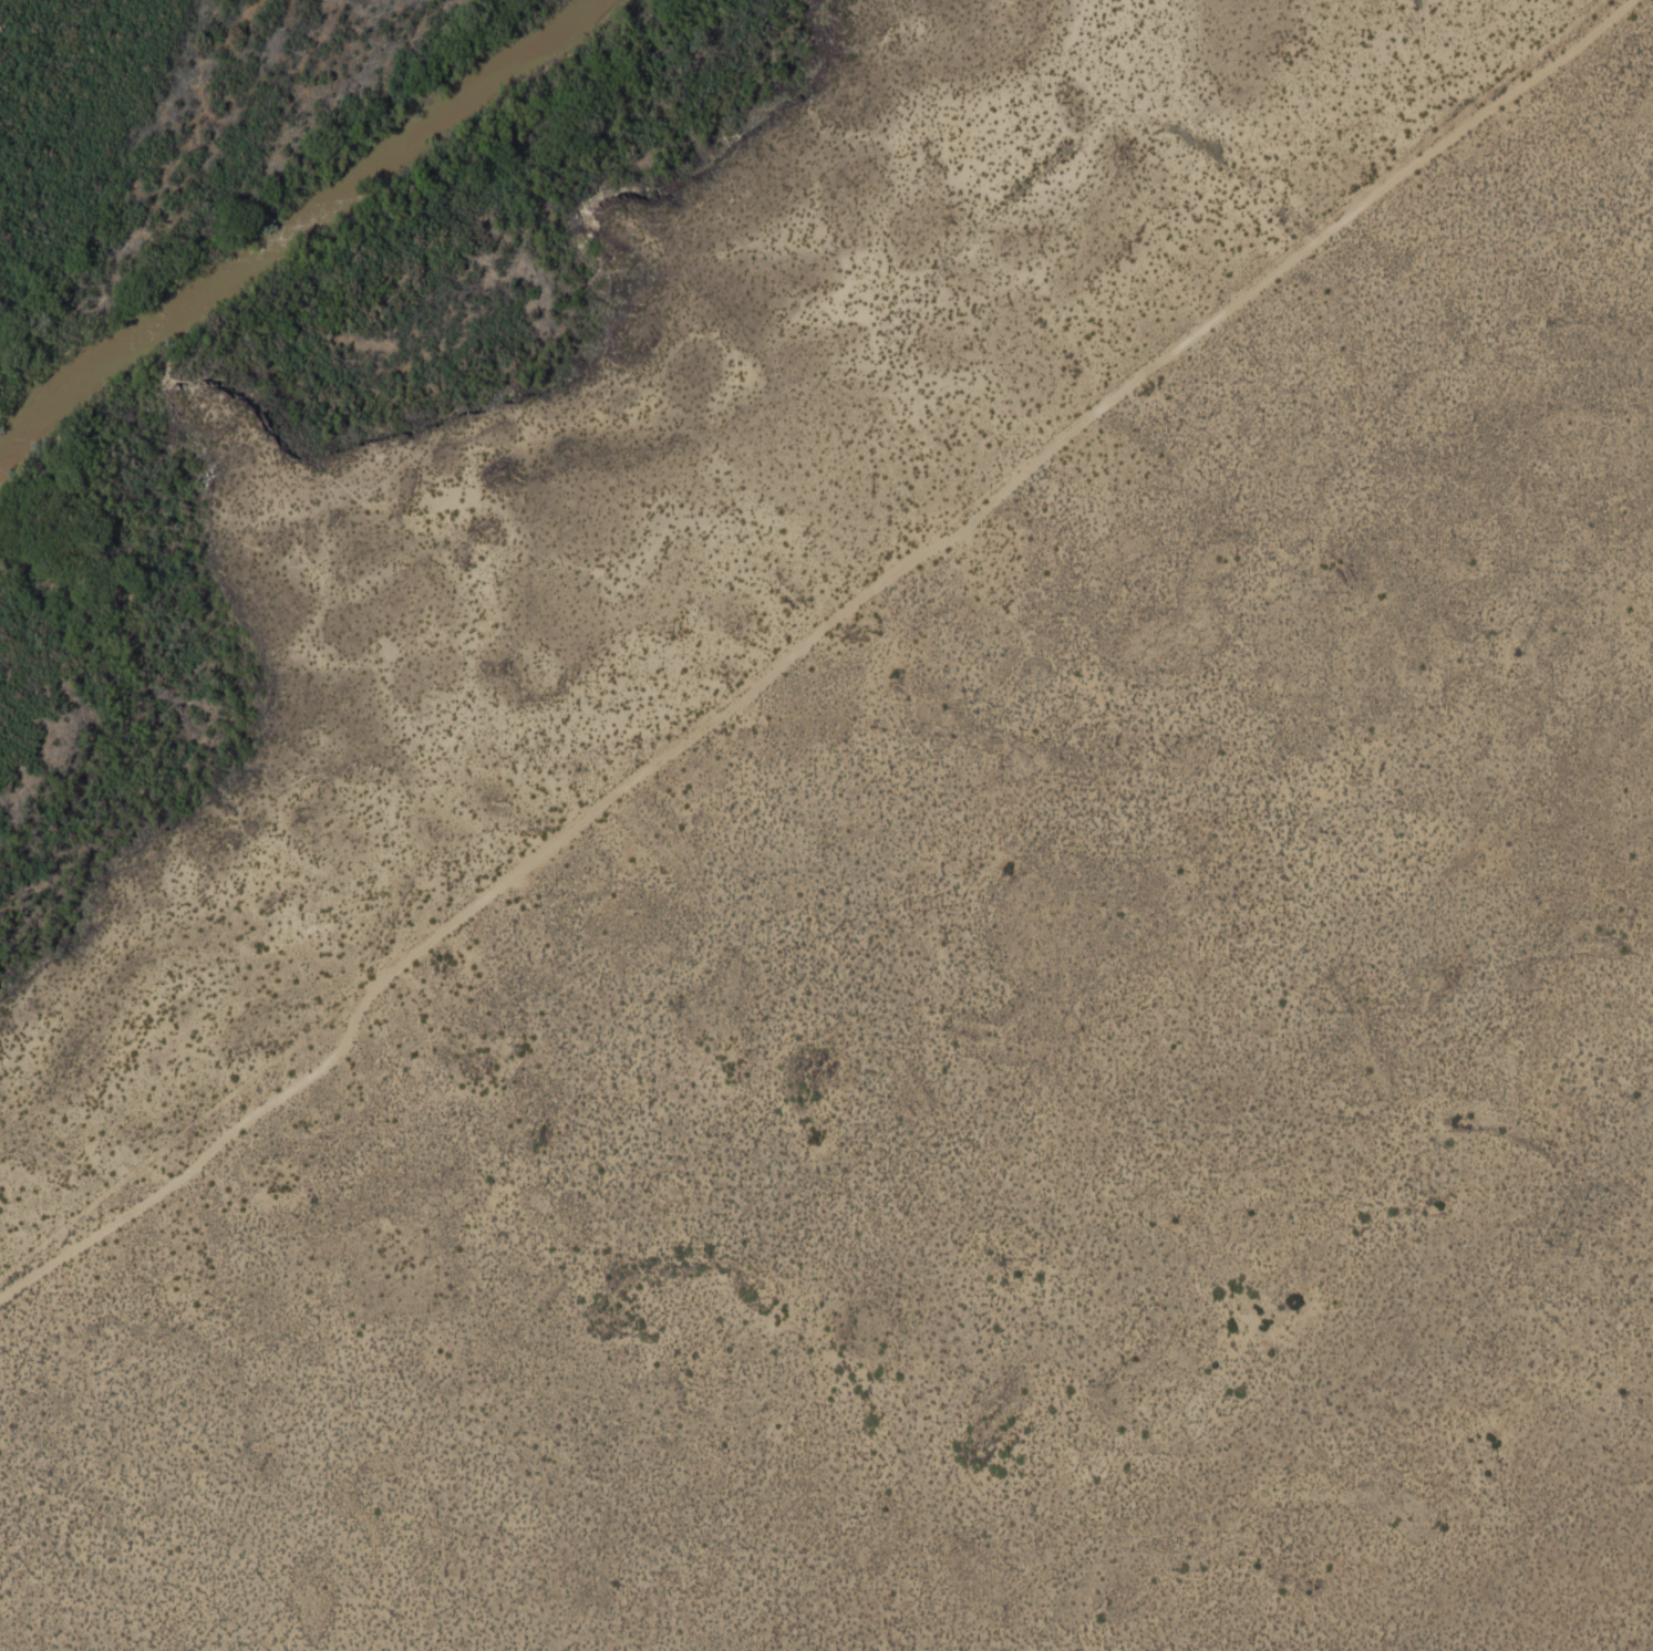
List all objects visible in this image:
river: (293, 221)

